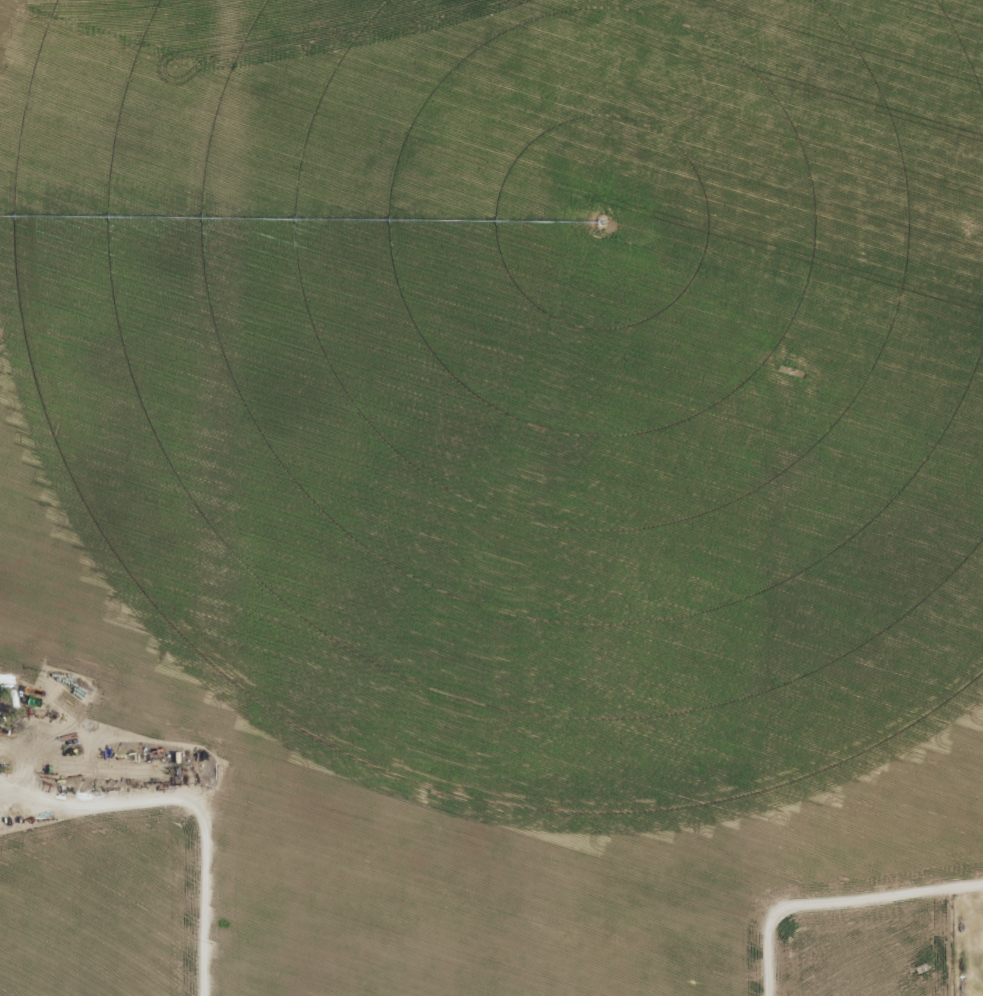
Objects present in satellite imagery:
road: (865, 925)

